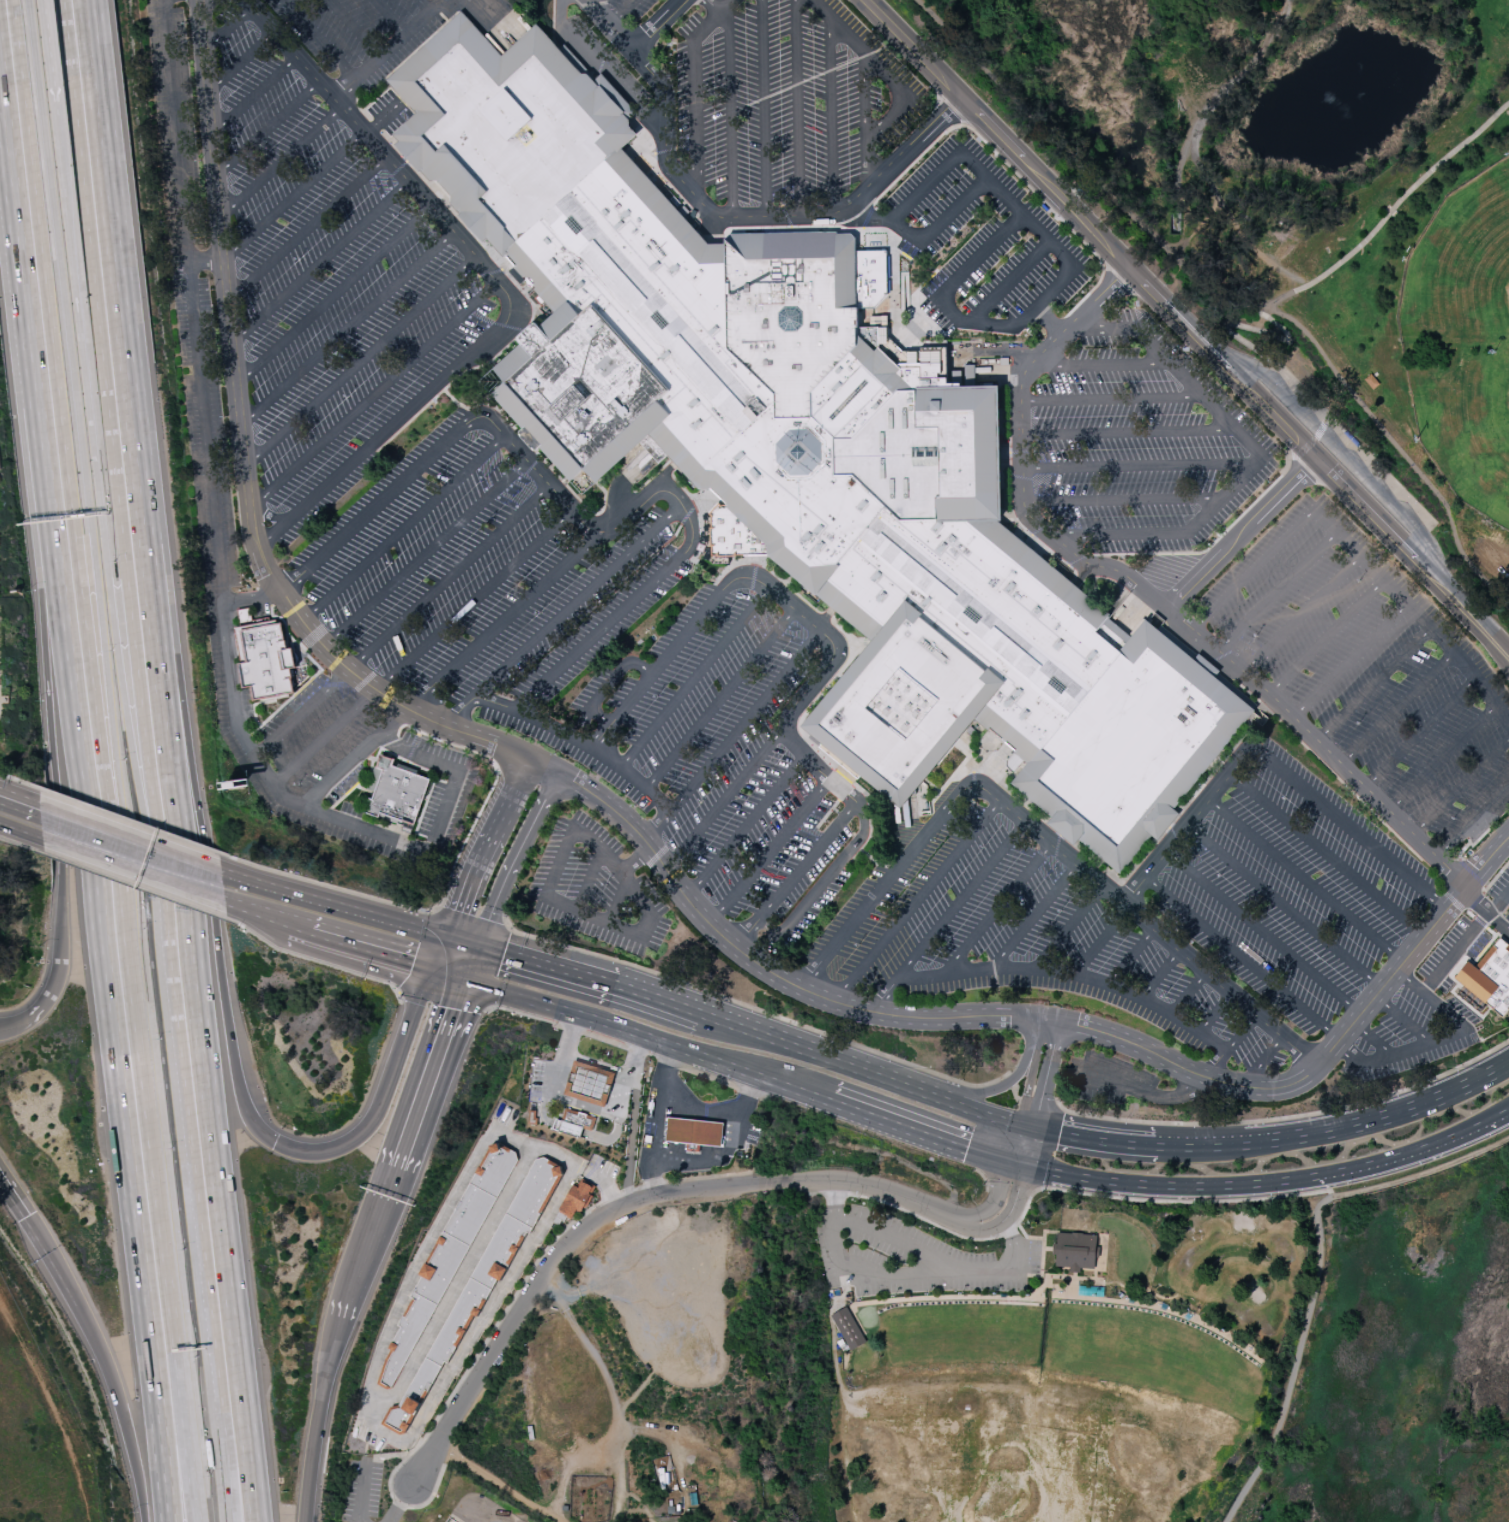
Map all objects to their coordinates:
road: (423, 6)
road: (713, 6)
parking lot: (628, 9)
road: (619, 11)
road: (389, 17)
road: (656, 24)
road: (227, 28)
road: (355, 28)
parking lot: (364, 31)
road: (319, 39)
road: (389, 49)
road: (53, 52)
road: (591, 55)
road: (241, 62)
road: (438, 70)
road: (891, 83)
road: (694, 89)
road: (254, 95)
road: (865, 96)
parking lot: (785, 100)
road: (797, 107)
road: (763, 108)
parking lot: (389, 112)
road: (730, 112)
road: (831, 114)
road: (1042, 126)
road: (267, 128)
road: (1202, 157)
road: (390, 160)
road: (281, 162)
road: (1033, 173)
road: (1407, 194)
road: (294, 195)
road: (912, 198)
park: (1297, 206)
road: (729, 216)
road: (869, 218)
road: (1010, 225)
road: (307, 229)
road: (1197, 231)
parking lot: (985, 245)
road: (12, 248)
road: (1173, 256)
road: (205, 260)
road: (320, 262)
road: (1009, 282)
parking lot: (326, 283)
road: (1199, 292)
road: (1297, 294)
road: (334, 295)
road: (1048, 321)
road: (348, 328)
road: (1286, 337)
park: (1462, 341)
road: (1249, 344)
road: (361, 362)
road: (199, 363)
road: (1101, 364)
parking lot: (202, 395)
road: (374, 395)
road: (1112, 399)
road: (140, 430)
road: (1128, 433)
road: (381, 438)
building: (810, 442)
parking lot: (1139, 442)
road: (1312, 442)
road: (1342, 452)
road: (243, 453)
road: (1404, 455)
road: (1256, 458)
road: (1135, 466)
road: (1325, 469)
road: (536, 470)
road: (661, 493)
road: (1122, 500)
road: (375, 505)
road: (403, 528)
road: (1240, 534)
road: (126, 535)
road: (425, 553)
road: (1249, 572)
road: (112, 589)
road: (1276, 591)
road: (252, 599)
road: (579, 601)
road: (1159, 604)
road: (1414, 611)
road: (1300, 614)
road: (402, 621)
road: (1479, 625)
road: (598, 632)
road: (1325, 637)
road: (422, 647)
road: (87, 653)
road: (103, 653)
road: (38, 658)
road: (1349, 660)
building: (265, 661)
parking lot: (1369, 668)
road: (656, 669)
road: (449, 671)
road: (694, 678)
road: (610, 682)
parking lot: (691, 684)
road: (1373, 684)
road: (809, 689)
road: (720, 699)
road: (0, 702)
road: (1396, 708)
road: (743, 721)
road: (1419, 733)
road: (577, 741)
road: (1441, 758)
road: (20, 781)
road: (1460, 786)
building: (399, 797)
road: (724, 800)
road: (21, 815)
road: (1472, 820)
road: (130, 821)
road: (1187, 822)
road: (745, 826)
road: (1351, 830)
road: (391, 838)
road: (92, 840)
road: (22, 846)
road: (769, 852)
road: (484, 854)
road: (1325, 854)
road: (635, 861)
road: (806, 861)
road: (513, 862)
road: (161, 864)
road: (1496, 877)
road: (201, 878)
road: (589, 880)
road: (1304, 880)
road: (628, 884)
road: (136, 887)
parking lot: (595, 888)
road: (446, 889)
parking lot: (1500, 889)
road: (879, 890)
parking lot: (1291, 890)
road: (812, 894)
road: (259, 897)
road: (959, 900)
road: (616, 901)
road: (916, 901)
road: (1283, 905)
road: (996, 909)
road: (307, 913)
road: (1034, 915)
road: (1139, 917)
parking lot: (1507, 917)
road: (474, 918)
road: (1499, 922)
road: (1069, 927)
road: (1262, 932)
road: (746, 933)
road: (381, 935)
parking lot: (1019, 937)
road: (91, 940)
road: (1101, 940)
road: (1464, 941)
traffic signals: (445, 953)
parking lot: (1451, 953)
road: (460, 954)
traffic signals: (476, 955)
road: (1130, 956)
road: (1240, 958)
road: (753, 961)
road: (316, 962)
road: (456, 965)
road: (471, 966)
road: (545, 967)
road: (1049, 969)
road: (1159, 974)
traffic signals: (467, 978)
building: (1489, 978)
road: (45, 980)
road: (1187, 992)
road: (658, 1001)
road: (219, 1007)
road: (18, 1012)
road: (760, 1012)
road: (1215, 1012)
road: (1401, 1019)
road: (1042, 1032)
road: (1240, 1033)
parking lot: (1409, 1034)
road: (649, 1038)
road: (1371, 1039)
road: (1436, 1040)
road: (821, 1054)
road: (1262, 1061)
road: (1319, 1061)
road: (1214, 1064)
road: (596, 1067)
road: (432, 1072)
road: (1047, 1076)
parking lot: (1109, 1079)
road: (1009, 1081)
building: (589, 1084)
road: (1029, 1085)
road: (998, 1087)
road: (387, 1088)
road: (1138, 1089)
road: (743, 1090)
road: (1013, 1094)
road: (1038, 1103)
road: (583, 1104)
road: (723, 1114)
road: (983, 1114)
road: (1289, 1118)
building: (577, 1120)
road: (659, 1120)
traffic signals: (1027, 1127)
road: (1340, 1128)
road: (925, 1129)
building: (566, 1130)
road: (577, 1131)
building: (697, 1133)
road: (630, 1139)
road: (1093, 1139)
traffic signals: (276, 1144)
road: (1022, 1144)
road: (1414, 1152)
road: (709, 1161)
traffic signals: (1017, 1161)
road: (1041, 1176)
road: (1163, 1186)
road: (1055, 1189)
road: (222, 1191)
road: (14, 1196)
road: (993, 1198)
building: (576, 1199)
road: (639, 1200)
road: (1005, 1215)
road: (431, 1236)
road: (891, 1237)
traffic signals: (48, 1244)
road: (374, 1244)
building: (1076, 1245)
road: (199, 1249)
building: (447, 1257)
road: (56, 1258)
road: (1316, 1269)
road: (903, 1275)
road: (615, 1281)
road: (457, 1283)
building: (479, 1285)
parking lot: (665, 1287)
road: (492, 1304)
road: (499, 1317)
building: (848, 1329)
park: (697, 1346)
park: (1054, 1357)
park: (1392, 1358)
road: (613, 1401)
road: (56, 1403)
road: (130, 1408)
road: (185, 1414)
road: (319, 1420)
road: (667, 1437)
road: (385, 1456)
road: (424, 1463)
road: (569, 1465)
road: (228, 1474)
road: (498, 1484)
parking lot: (360, 1489)
road: (360, 1490)
road: (399, 1502)
road: (639, 1502)
road: (630, 1510)
park: (334, 1519)

